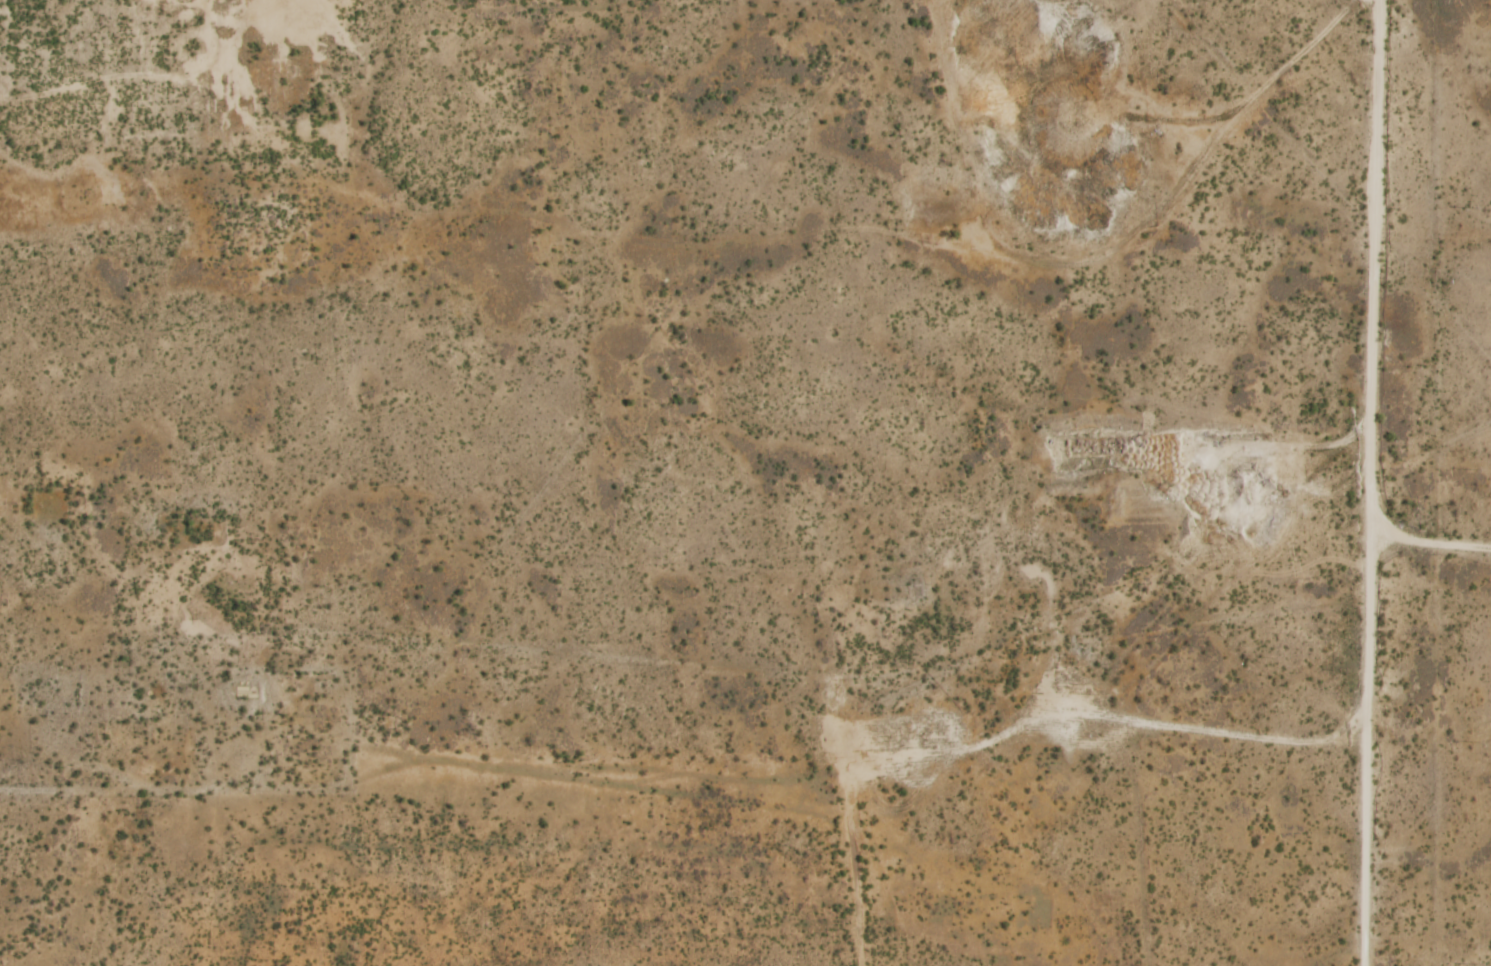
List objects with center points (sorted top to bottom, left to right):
road: (1378, 12)

